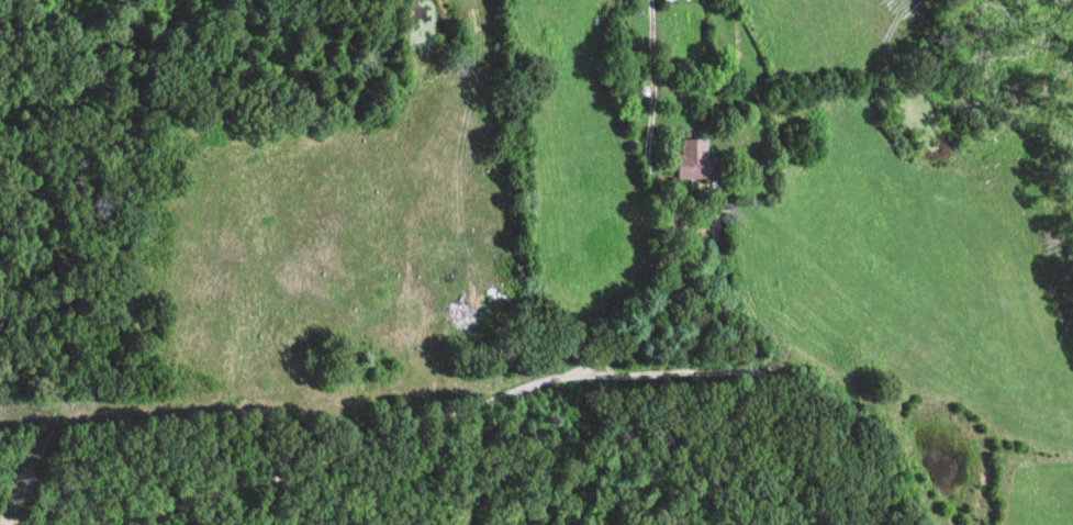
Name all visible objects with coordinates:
building: (694, 156)

